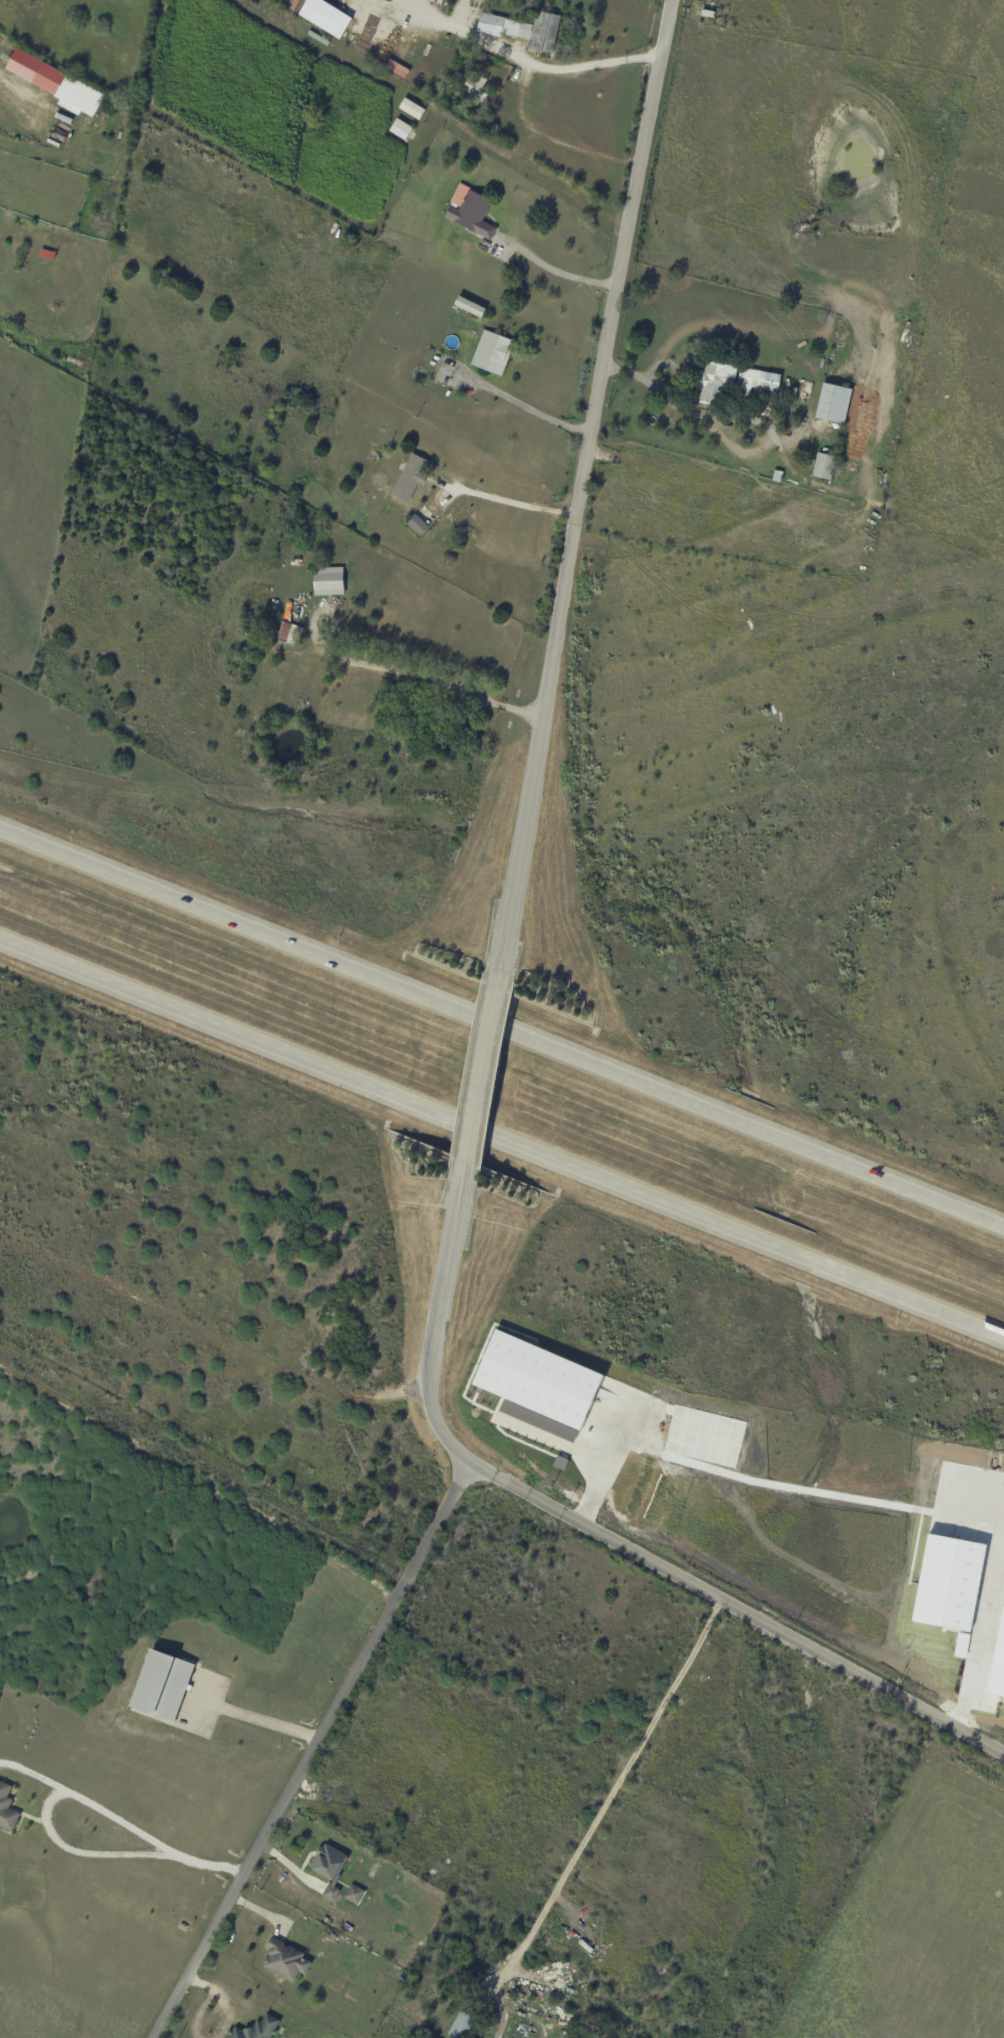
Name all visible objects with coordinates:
building: (458, 4)
building: (707, 13)
building: (326, 17)
building: (524, 29)
road: (988, 32)
building: (318, 38)
road: (522, 58)
building: (54, 83)
building: (476, 89)
building: (444, 93)
building: (411, 109)
building: (492, 128)
building: (400, 129)
building: (470, 211)
building: (21, 257)
road: (563, 272)
building: (470, 307)
building: (493, 353)
building: (715, 382)
building: (756, 383)
road: (522, 404)
building: (834, 404)
building: (824, 467)
building: (778, 477)
building: (410, 479)
road: (574, 485)
road: (509, 503)
building: (418, 525)
building: (328, 582)
building: (283, 632)
road: (430, 682)
building: (448, 702)
road: (502, 1030)
road: (477, 1071)
road: (502, 1149)
building: (331, 1314)
building: (540, 1379)
building: (471, 1390)
road: (606, 1464)
road: (198, 1485)
road: (600, 1533)
road: (986, 1648)
building: (161, 1686)
road: (258, 1723)
road: (311, 1752)
road: (613, 1794)
building: (7, 1809)
road: (121, 1818)
building: (76, 1826)
road: (84, 1849)
building: (329, 1868)
building: (354, 1894)
building: (333, 1938)
building: (286, 1960)
road: (997, 1992)
building: (462, 2025)
building: (599, 2028)
building: (257, 2029)

